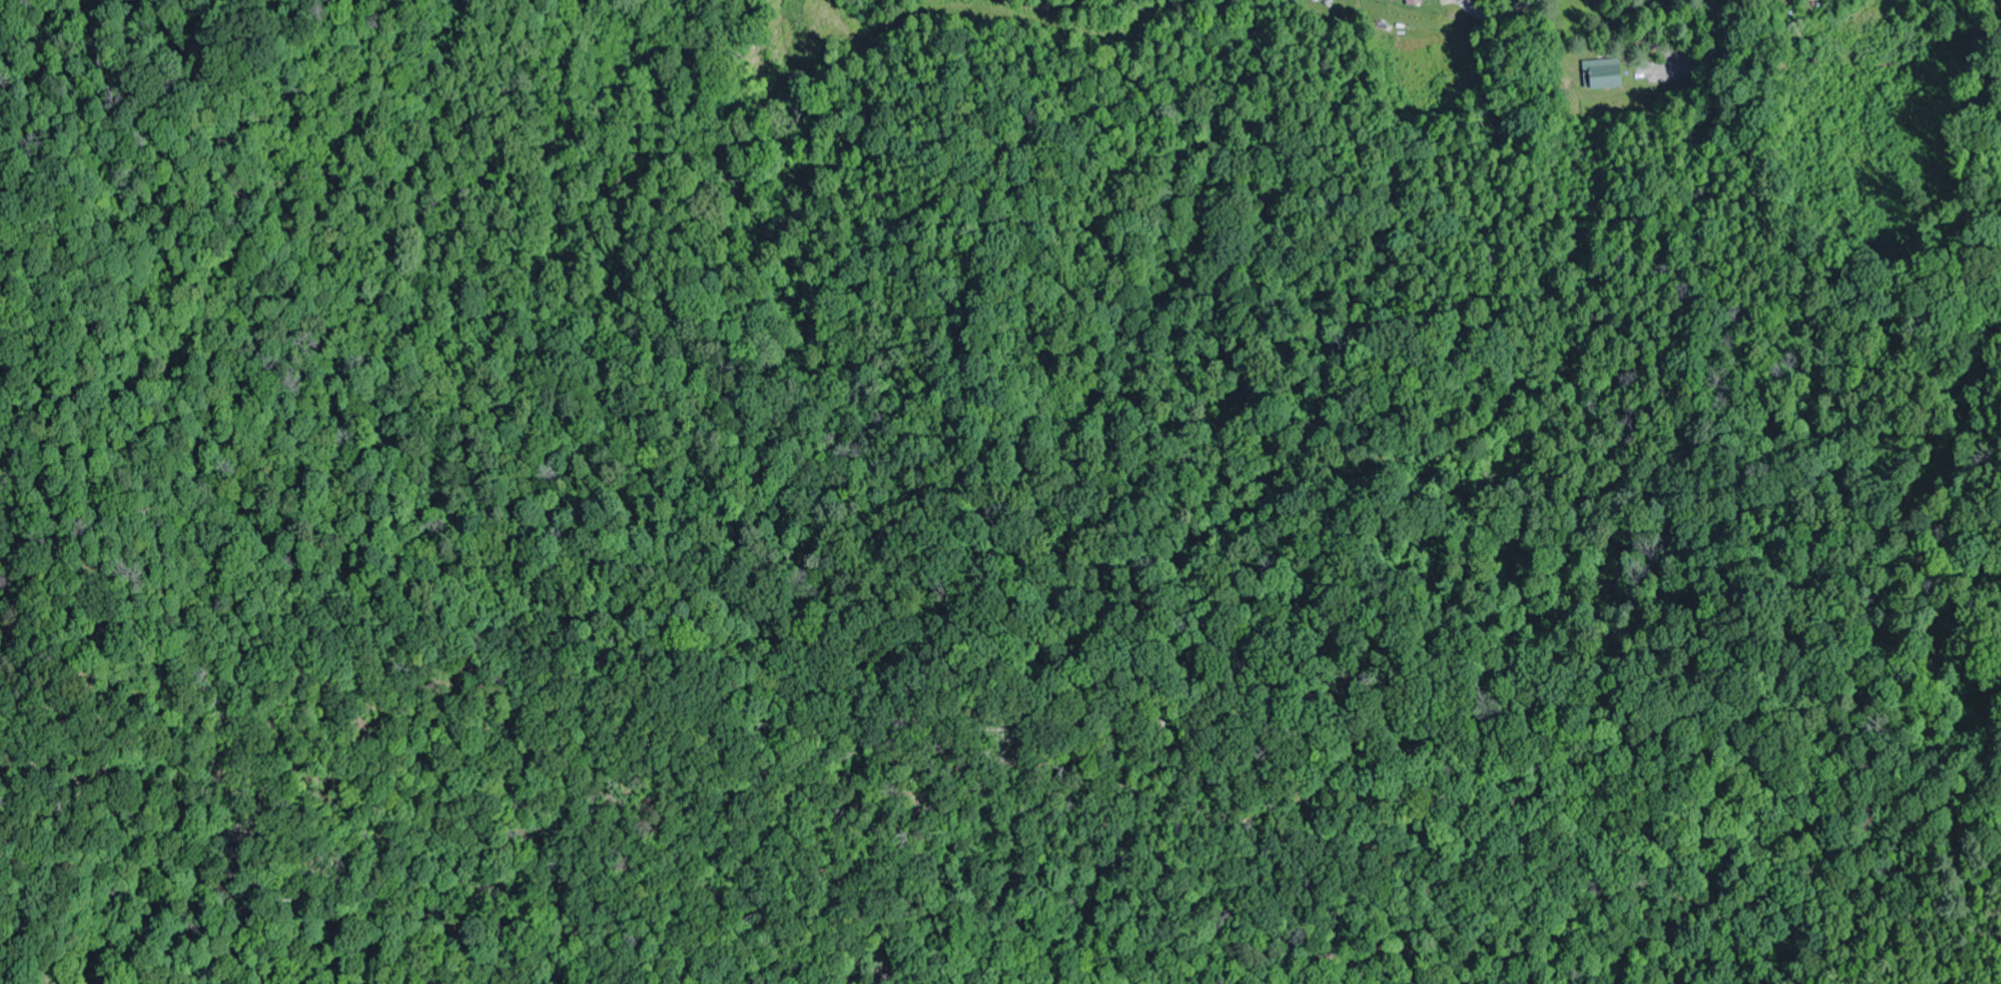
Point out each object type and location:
building: (1321, 0)
building: (1393, 0)
building: (1415, 2)
building: (1603, 75)

